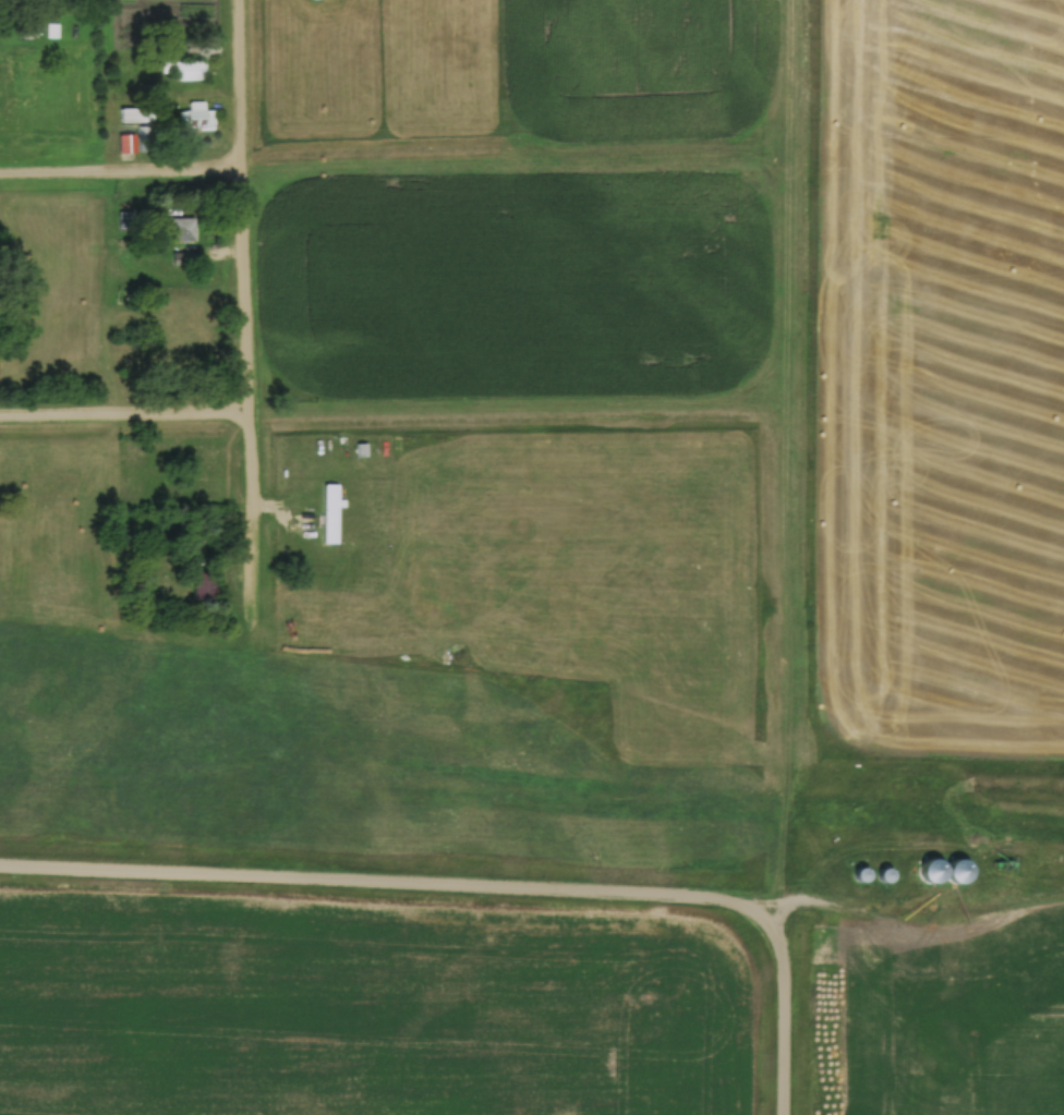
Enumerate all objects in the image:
building: (50, 29)
building: (191, 63)
road: (244, 86)
building: (135, 113)
building: (196, 119)
road: (518, 166)
road: (123, 177)
road: (788, 199)
building: (180, 227)
road: (252, 381)
road: (126, 417)
building: (205, 584)
road: (485, 885)

